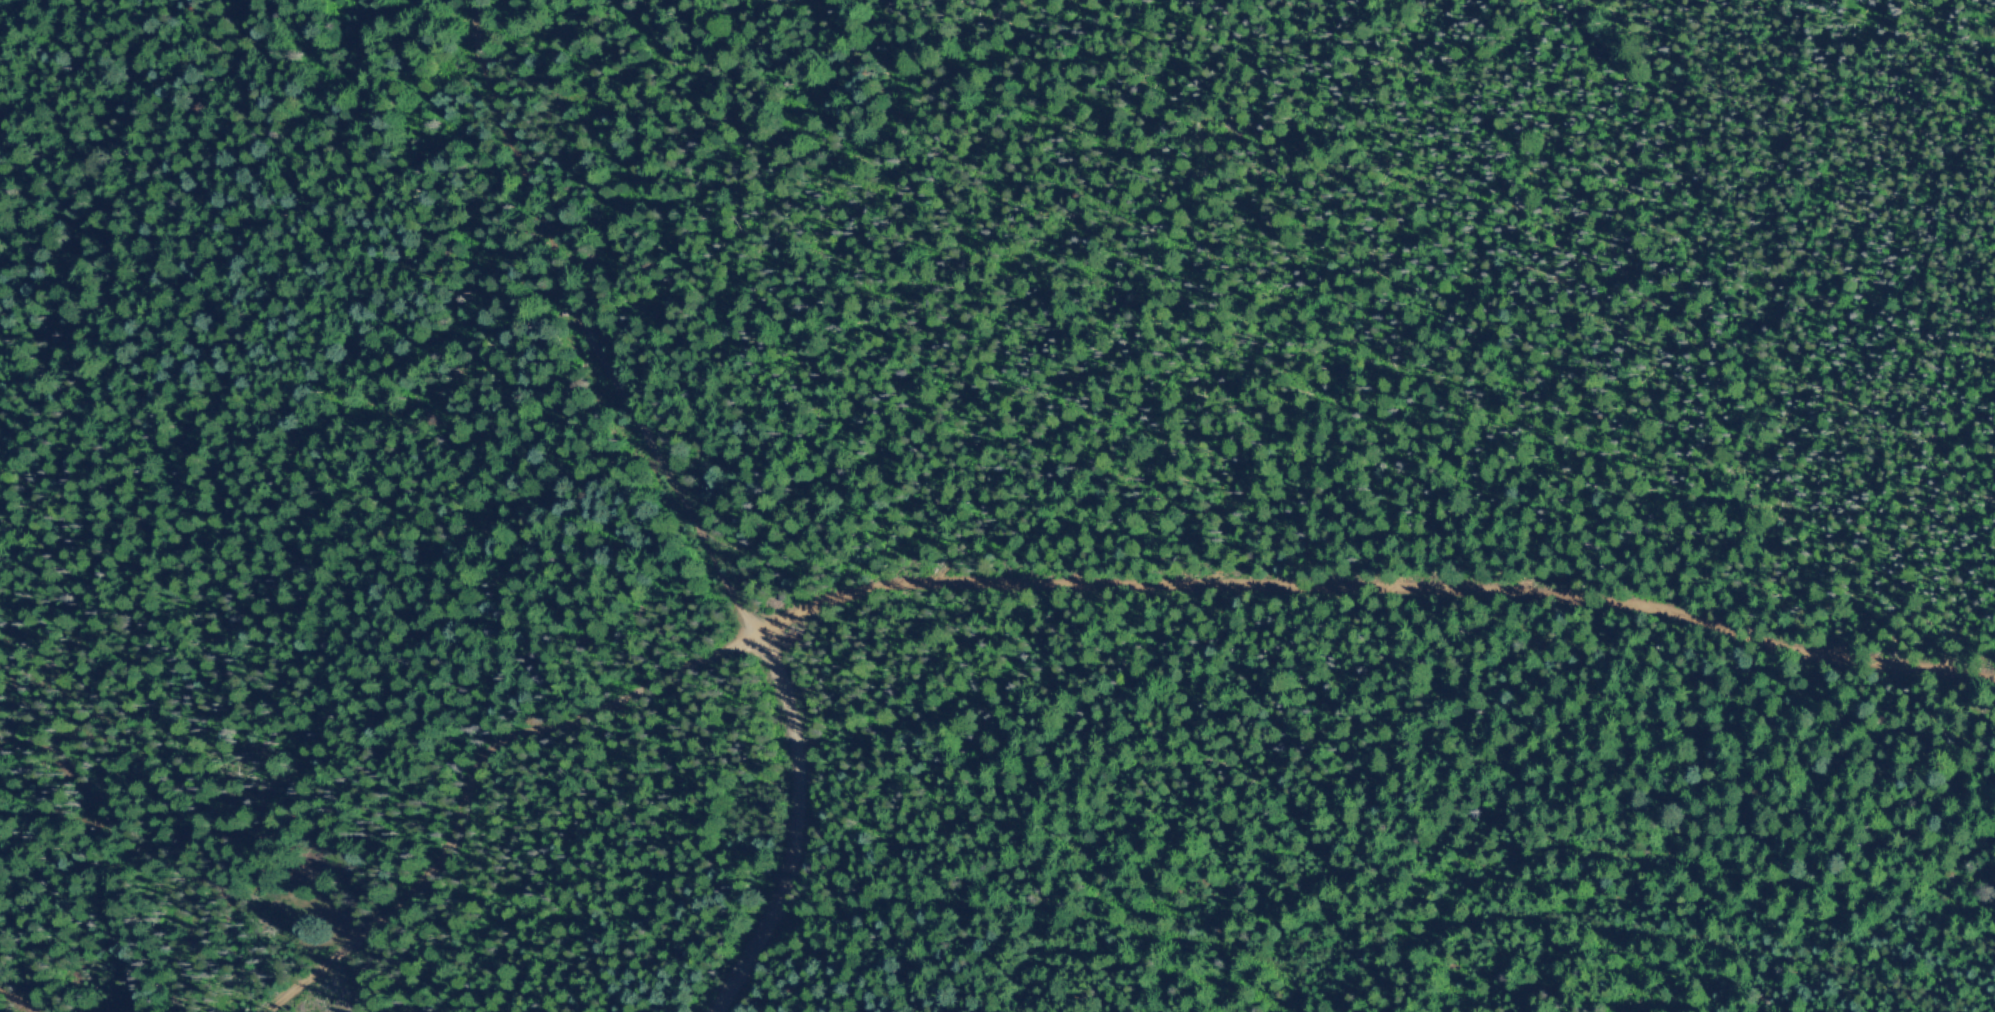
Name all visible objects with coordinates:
road: (1378, 589)
road: (474, 773)
road: (795, 826)
road: (20, 999)

